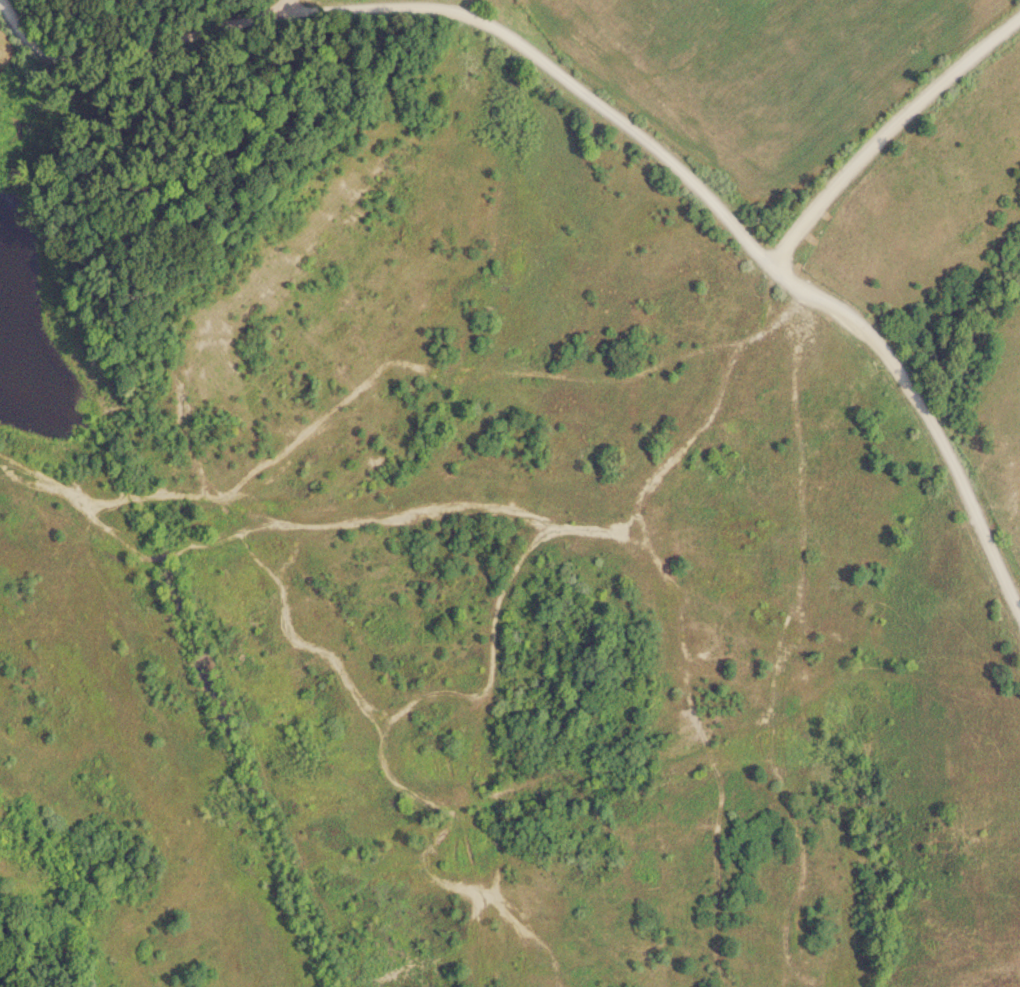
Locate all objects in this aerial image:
road: (270, 9)
road: (421, 11)
road: (810, 288)

